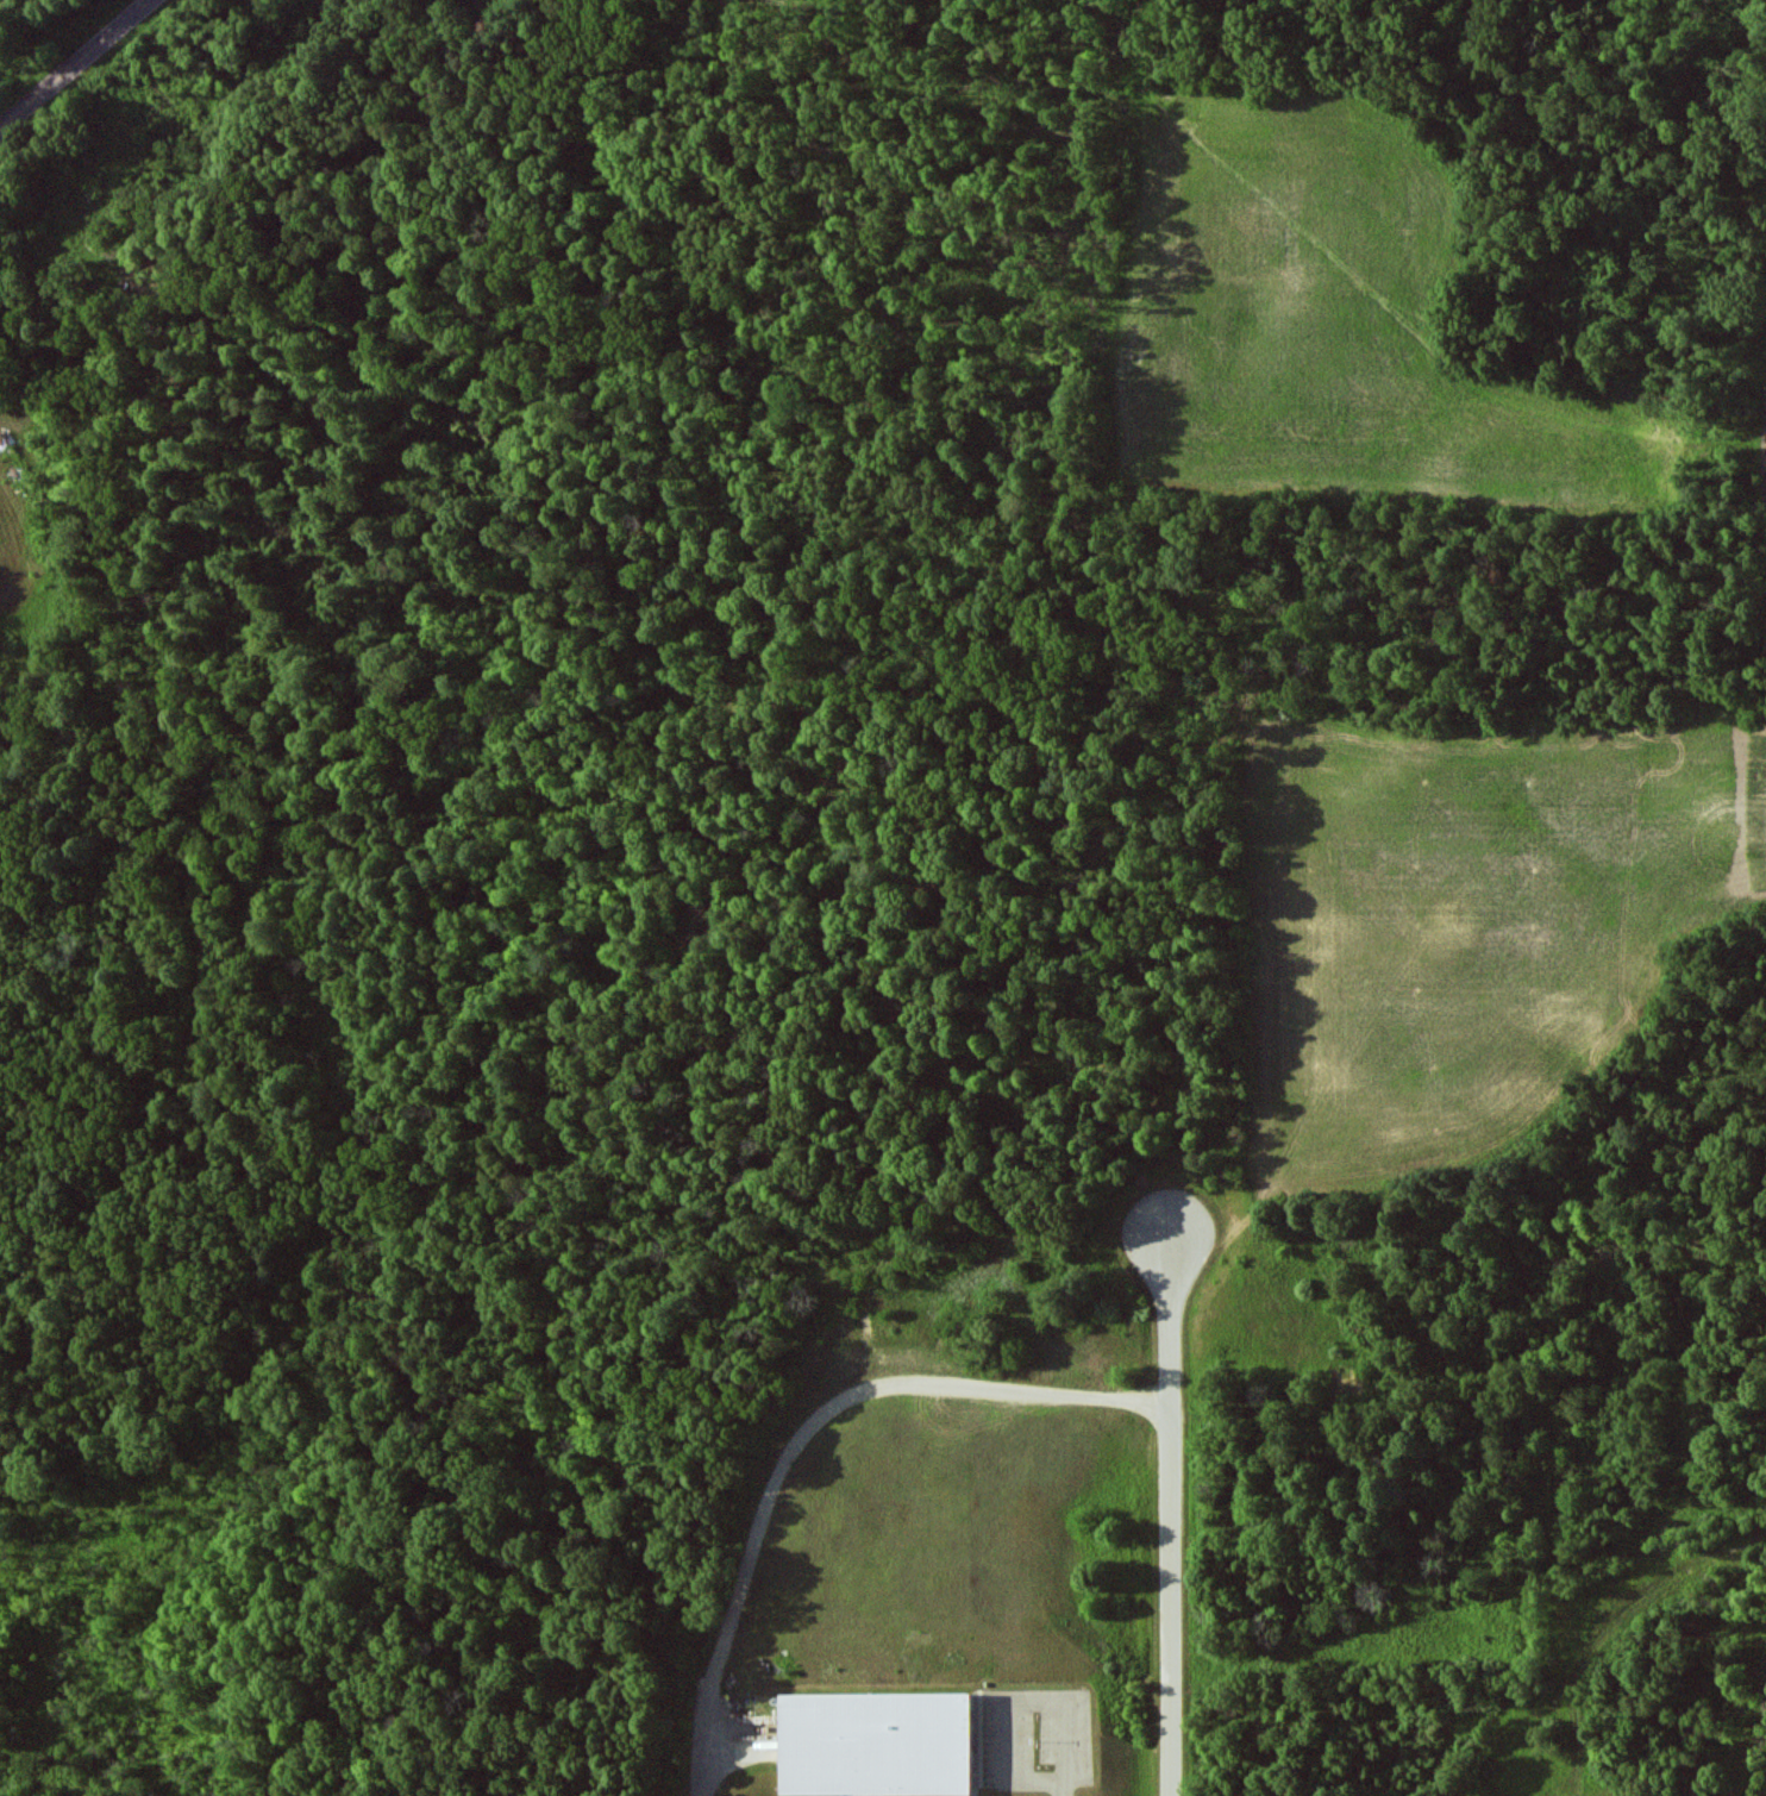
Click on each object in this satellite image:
road: (80, 68)
road: (816, 1418)
road: (1172, 1521)
road: (1010, 1704)
building: (879, 1746)
road: (1065, 1789)

